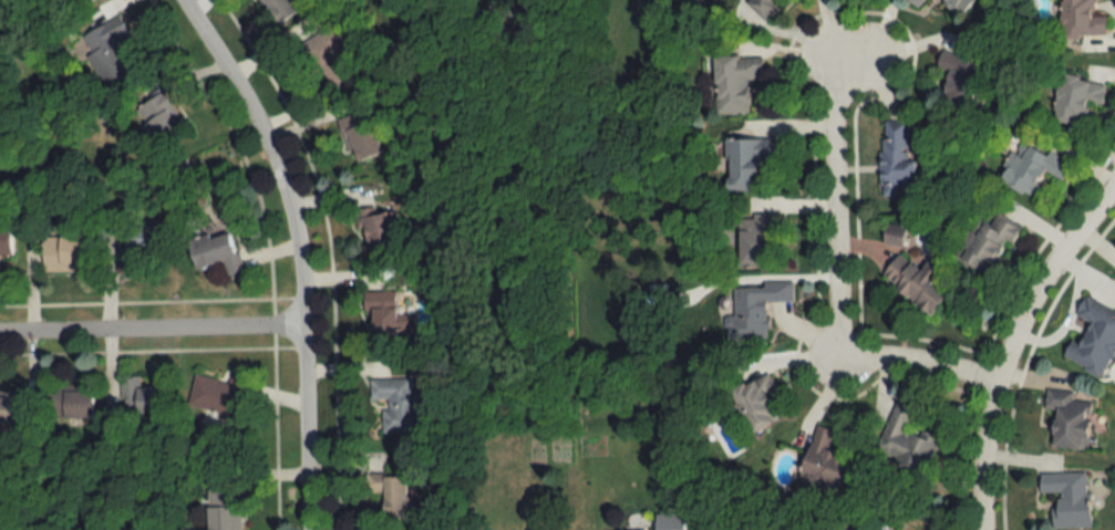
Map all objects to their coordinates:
building: (75, 1)
building: (915, 2)
building: (959, 4)
building: (763, 8)
building: (279, 10)
building: (1081, 20)
building: (106, 49)
building: (328, 60)
building: (958, 81)
building: (734, 83)
building: (1076, 98)
building: (158, 119)
building: (361, 142)
building: (895, 159)
building: (744, 163)
building: (1031, 169)
building: (378, 230)
building: (756, 240)
building: (4, 242)
building: (142, 243)
building: (985, 245)
road: (297, 251)
building: (216, 252)
building: (64, 254)
road: (835, 272)
building: (917, 284)
building: (755, 308)
building: (381, 318)
road: (151, 332)
building: (1093, 339)
road: (1012, 342)
building: (219, 394)
building: (143, 398)
building: (756, 402)
building: (70, 404)
building: (396, 404)
building: (9, 407)
building: (1067, 419)
building: (905, 440)
building: (825, 463)
building: (388, 490)
building: (1066, 498)
building: (223, 509)
building: (668, 522)

